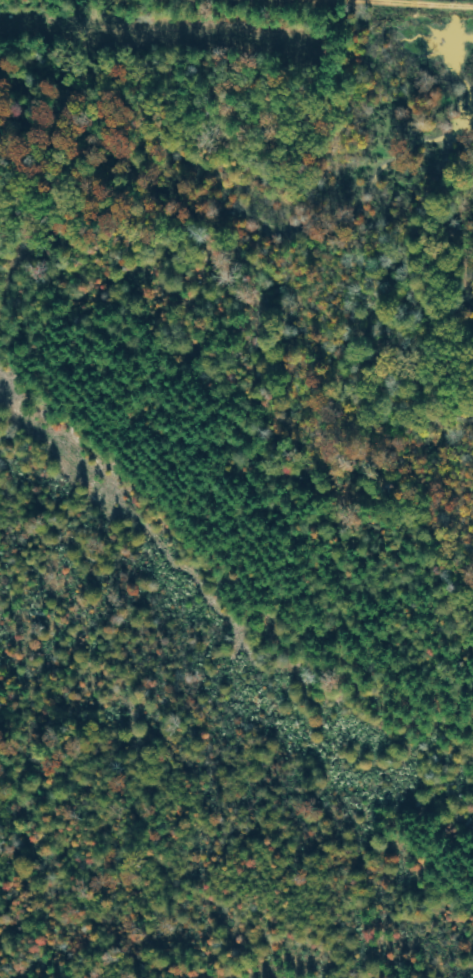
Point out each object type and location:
road: (440, 1)

